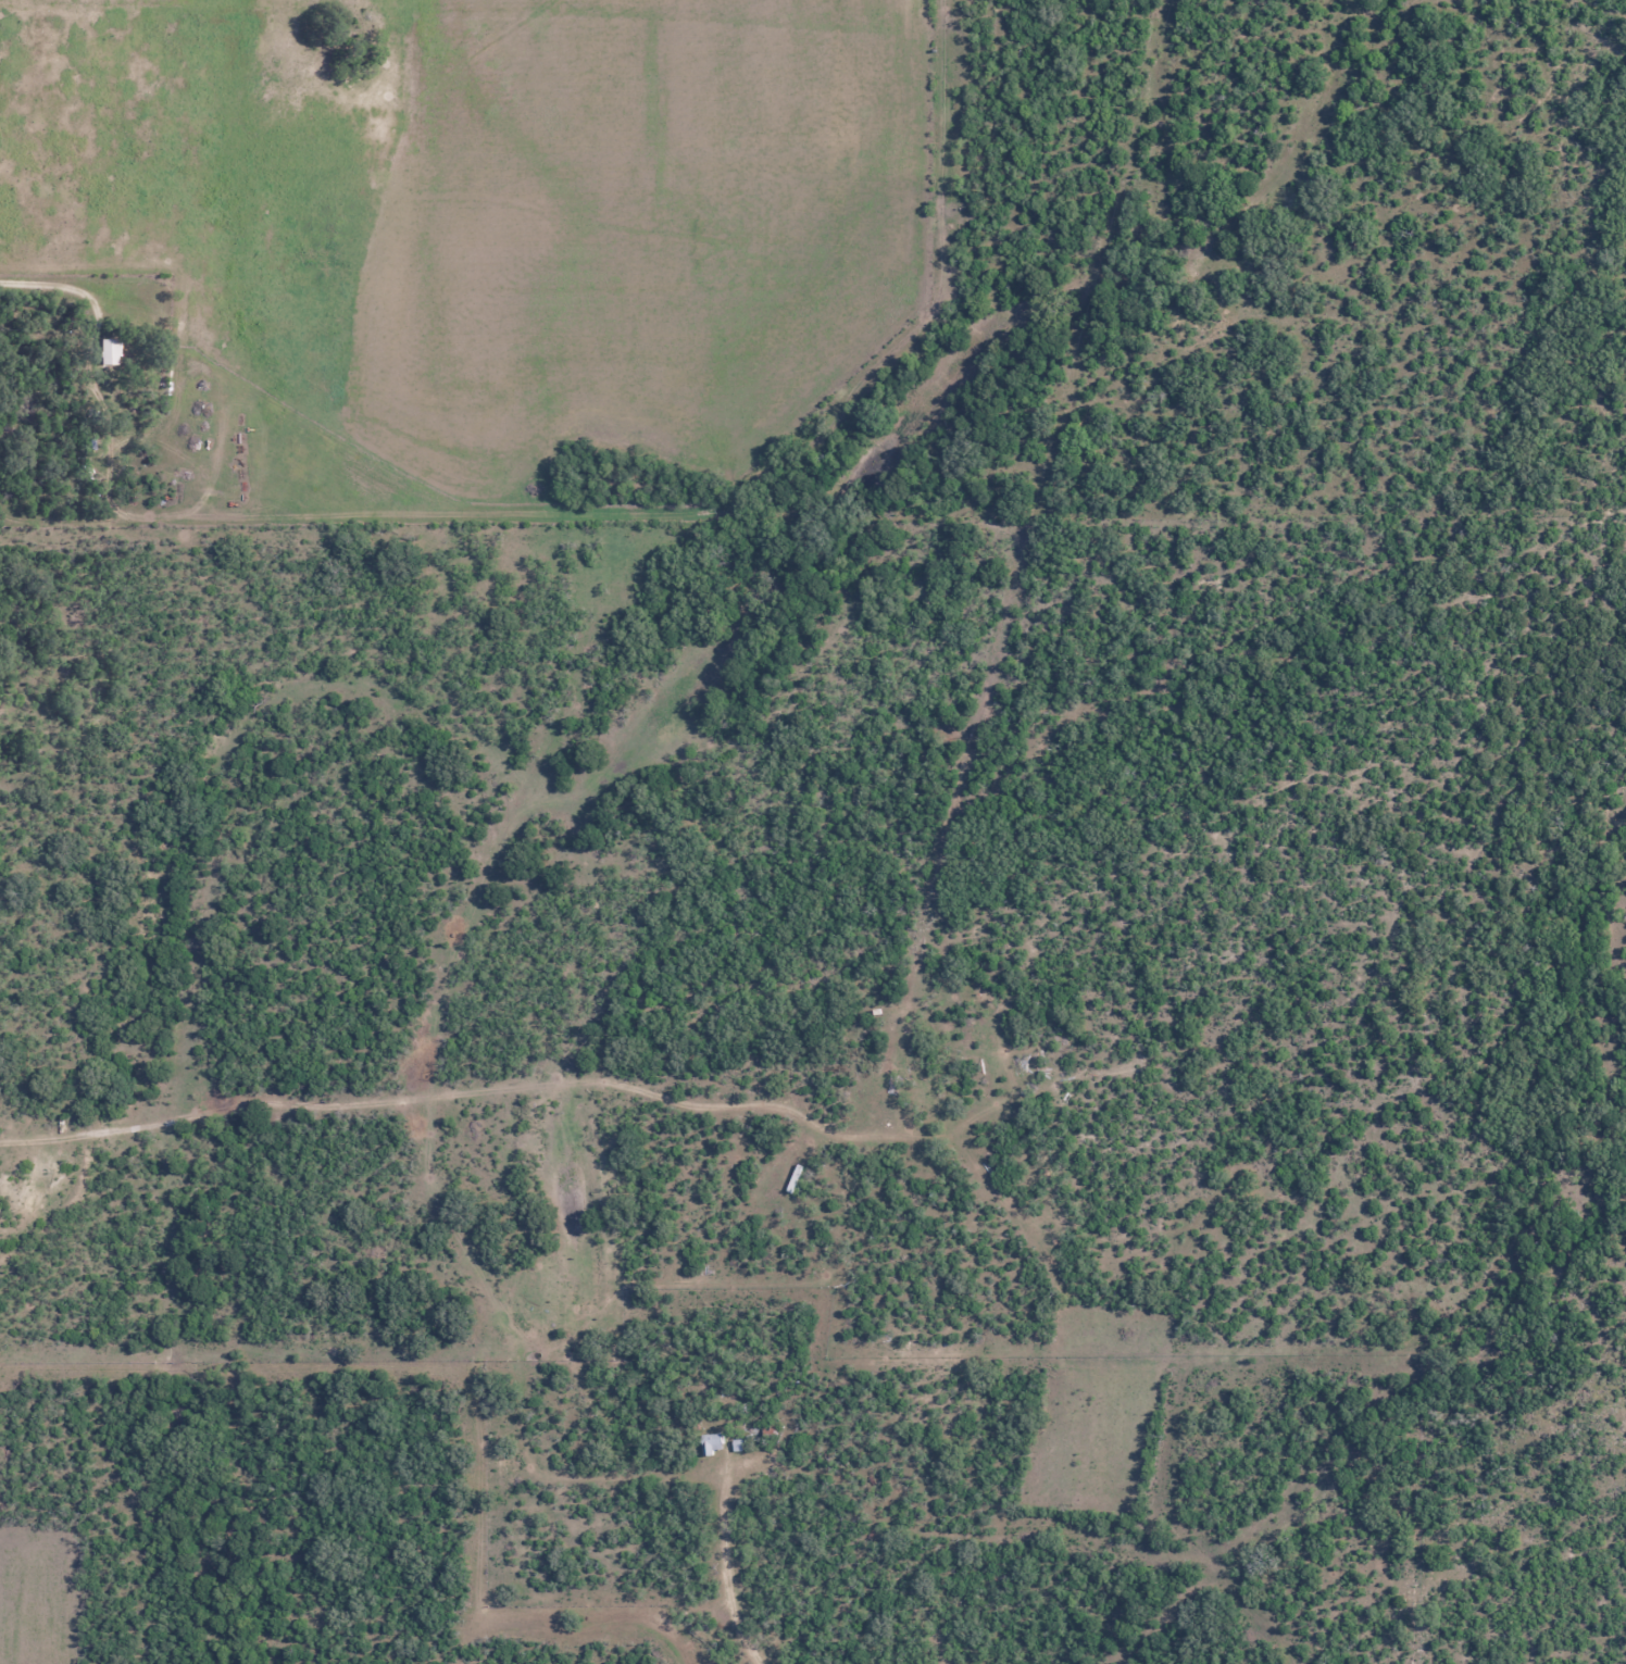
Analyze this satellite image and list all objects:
building: (108, 351)
building: (711, 1441)
road: (726, 1574)

